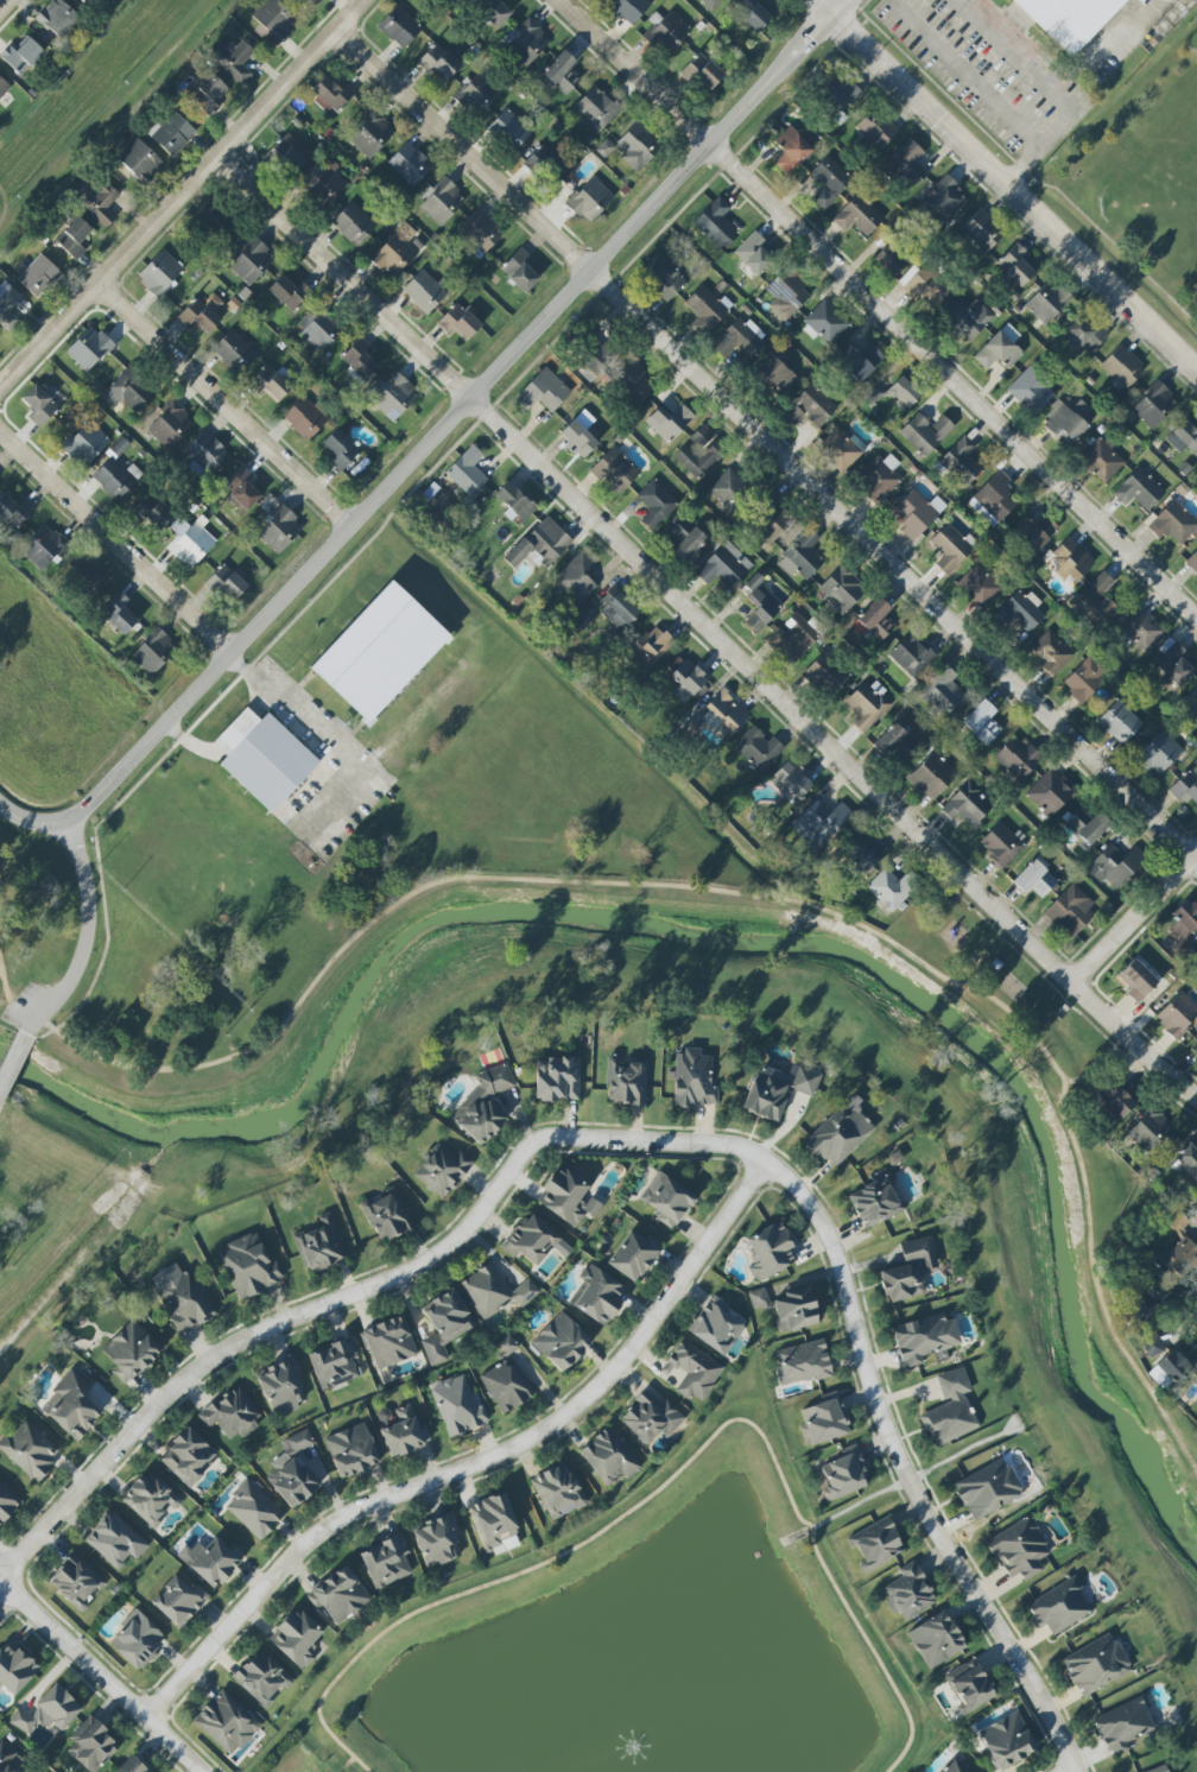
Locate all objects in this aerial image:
building: (454, 0)
building: (85, 1)
building: (311, 2)
building: (710, 4)
road: (5, 5)
building: (628, 8)
building: (492, 11)
building: (752, 13)
building: (1069, 19)
building: (57, 20)
building: (273, 20)
building: (399, 26)
building: (667, 32)
building: (526, 43)
road: (1104, 50)
building: (19, 58)
building: (233, 59)
building: (438, 63)
building: (702, 71)
building: (562, 72)
road: (961, 75)
building: (2, 88)
road: (1047, 90)
building: (207, 91)
building: (479, 93)
building: (330, 94)
building: (596, 110)
building: (509, 128)
building: (875, 128)
building: (171, 133)
building: (370, 134)
building: (636, 146)
building: (604, 147)
building: (792, 148)
building: (140, 162)
building: (544, 162)
building: (906, 163)
building: (408, 164)
building: (829, 182)
road: (1006, 182)
building: (324, 184)
road: (182, 192)
building: (943, 198)
building: (589, 200)
building: (442, 202)
building: (101, 204)
building: (857, 216)
building: (214, 219)
building: (715, 222)
building: (354, 223)
building: (982, 230)
building: (480, 233)
building: (74, 238)
building: (395, 251)
building: (754, 252)
building: (249, 259)
building: (891, 259)
building: (1015, 265)
building: (520, 270)
building: (159, 274)
building: (38, 276)
building: (666, 278)
building: (926, 285)
building: (424, 290)
building: (289, 292)
building: (787, 293)
road: (881, 302)
building: (1047, 303)
building: (7, 306)
building: (199, 315)
building: (967, 318)
building: (458, 322)
building: (826, 322)
building: (322, 327)
building: (1083, 334)
building: (739, 338)
building: (89, 348)
building: (1000, 348)
building: (234, 350)
building: (359, 359)
building: (859, 361)
building: (1122, 367)
building: (617, 371)
building: (777, 373)
building: (271, 382)
building: (128, 391)
building: (904, 391)
building: (1031, 391)
building: (539, 393)
building: (39, 405)
road: (223, 405)
building: (1154, 405)
building: (809, 406)
road: (456, 416)
building: (304, 418)
building: (1068, 419)
building: (669, 422)
building: (170, 425)
building: (925, 432)
building: (1183, 437)
building: (577, 438)
road: (767, 442)
building: (85, 444)
building: (340, 449)
building: (841, 449)
building: (701, 453)
building: (204, 454)
building: (1101, 460)
building: (961, 462)
building: (615, 470)
building: (467, 472)
building: (116, 476)
building: (878, 477)
building: (728, 488)
building: (1139, 489)
building: (241, 491)
building: (993, 499)
building: (514, 501)
building: (655, 504)
building: (13, 511)
building: (152, 513)
building: (917, 513)
building: (771, 519)
building: (1173, 523)
building: (279, 530)
building: (1033, 532)
building: (685, 538)
building: (190, 542)
road: (118, 543)
building: (539, 544)
building: (43, 546)
building: (951, 548)
building: (802, 556)
building: (1071, 561)
building: (1192, 561)
building: (724, 565)
building: (84, 575)
building: (575, 578)
building: (226, 582)
building: (980, 586)
building: (842, 588)
building: (1098, 599)
building: (759, 603)
building: (617, 609)
building: (1020, 610)
building: (119, 613)
building: (874, 620)
building: (1141, 628)
road: (704, 631)
building: (792, 639)
building: (650, 646)
building: (153, 651)
building: (379, 652)
building: (1051, 652)
building: (911, 656)
building: (1172, 663)
building: (826, 672)
building: (686, 678)
building: (1084, 679)
building: (943, 691)
building: (1191, 701)
road: (260, 703)
building: (726, 709)
building: (982, 722)
building: (1119, 722)
road: (235, 733)
road: (331, 739)
building: (895, 742)
road: (189, 743)
building: (758, 748)
building: (1159, 753)
building: (1016, 757)
building: (264, 758)
building: (932, 776)
building: (792, 779)
building: (1185, 786)
building: (1050, 791)
building: (967, 805)
road: (30, 821)
building: (819, 823)
building: (1087, 824)
building: (1001, 843)
building: (862, 849)
building: (1115, 866)
building: (1034, 878)
road: (525, 879)
building: (888, 890)
building: (1070, 911)
road: (1133, 917)
building: (1184, 919)
road: (85, 937)
building: (1136, 980)
road: (4, 986)
building: (1177, 1014)
road: (12, 1061)
building: (558, 1078)
building: (693, 1080)
building: (626, 1081)
building: (778, 1089)
building: (1117, 1097)
building: (484, 1105)
building: (840, 1132)
building: (1151, 1134)
building: (1187, 1159)
building: (442, 1170)
building: (568, 1197)
building: (666, 1200)
building: (876, 1201)
park: (65, 1214)
building: (386, 1214)
building: (530, 1240)
building: (319, 1245)
building: (771, 1251)
building: (633, 1254)
road: (1089, 1254)
building: (1178, 1257)
building: (249, 1266)
building: (908, 1270)
building: (494, 1291)
building: (597, 1296)
building: (183, 1298)
building: (1148, 1303)
building: (787, 1308)
building: (444, 1324)
building: (716, 1327)
road: (258, 1334)
building: (925, 1337)
building: (560, 1341)
building: (388, 1342)
building: (1152, 1346)
building: (131, 1352)
building: (802, 1362)
building: (336, 1363)
road: (866, 1363)
building: (692, 1369)
building: (1170, 1371)
building: (506, 1379)
building: (281, 1384)
building: (71, 1404)
building: (457, 1405)
building: (950, 1409)
building: (230, 1413)
building: (651, 1417)
building: (823, 1420)
building: (404, 1432)
building: (300, 1441)
building: (28, 1449)
building: (351, 1450)
building: (188, 1456)
building: (609, 1456)
road: (477, 1466)
building: (844, 1473)
building: (292, 1481)
road: (669, 1483)
building: (988, 1488)
building: (558, 1491)
building: (150, 1499)
building: (7, 1502)
building: (254, 1510)
building: (437, 1539)
building: (115, 1540)
building: (875, 1544)
building: (1019, 1549)
building: (210, 1561)
building: (386, 1562)
building: (76, 1581)
building: (908, 1591)
building: (338, 1595)
building: (178, 1601)
building: (1059, 1606)
building: (296, 1638)
building: (936, 1639)
building: (137, 1640)
building: (1096, 1664)
building: (14, 1669)
road: (104, 1676)
building: (261, 1678)
building: (969, 1686)
building: (58, 1705)
building: (23, 1721)
building: (226, 1722)
building: (1122, 1726)
building: (1007, 1741)
building: (91, 1745)
building: (8, 1759)
park: (297, 1760)
building: (132, 1766)
building: (955, 1766)
building: (1159, 1768)
road: (1075, 1771)

